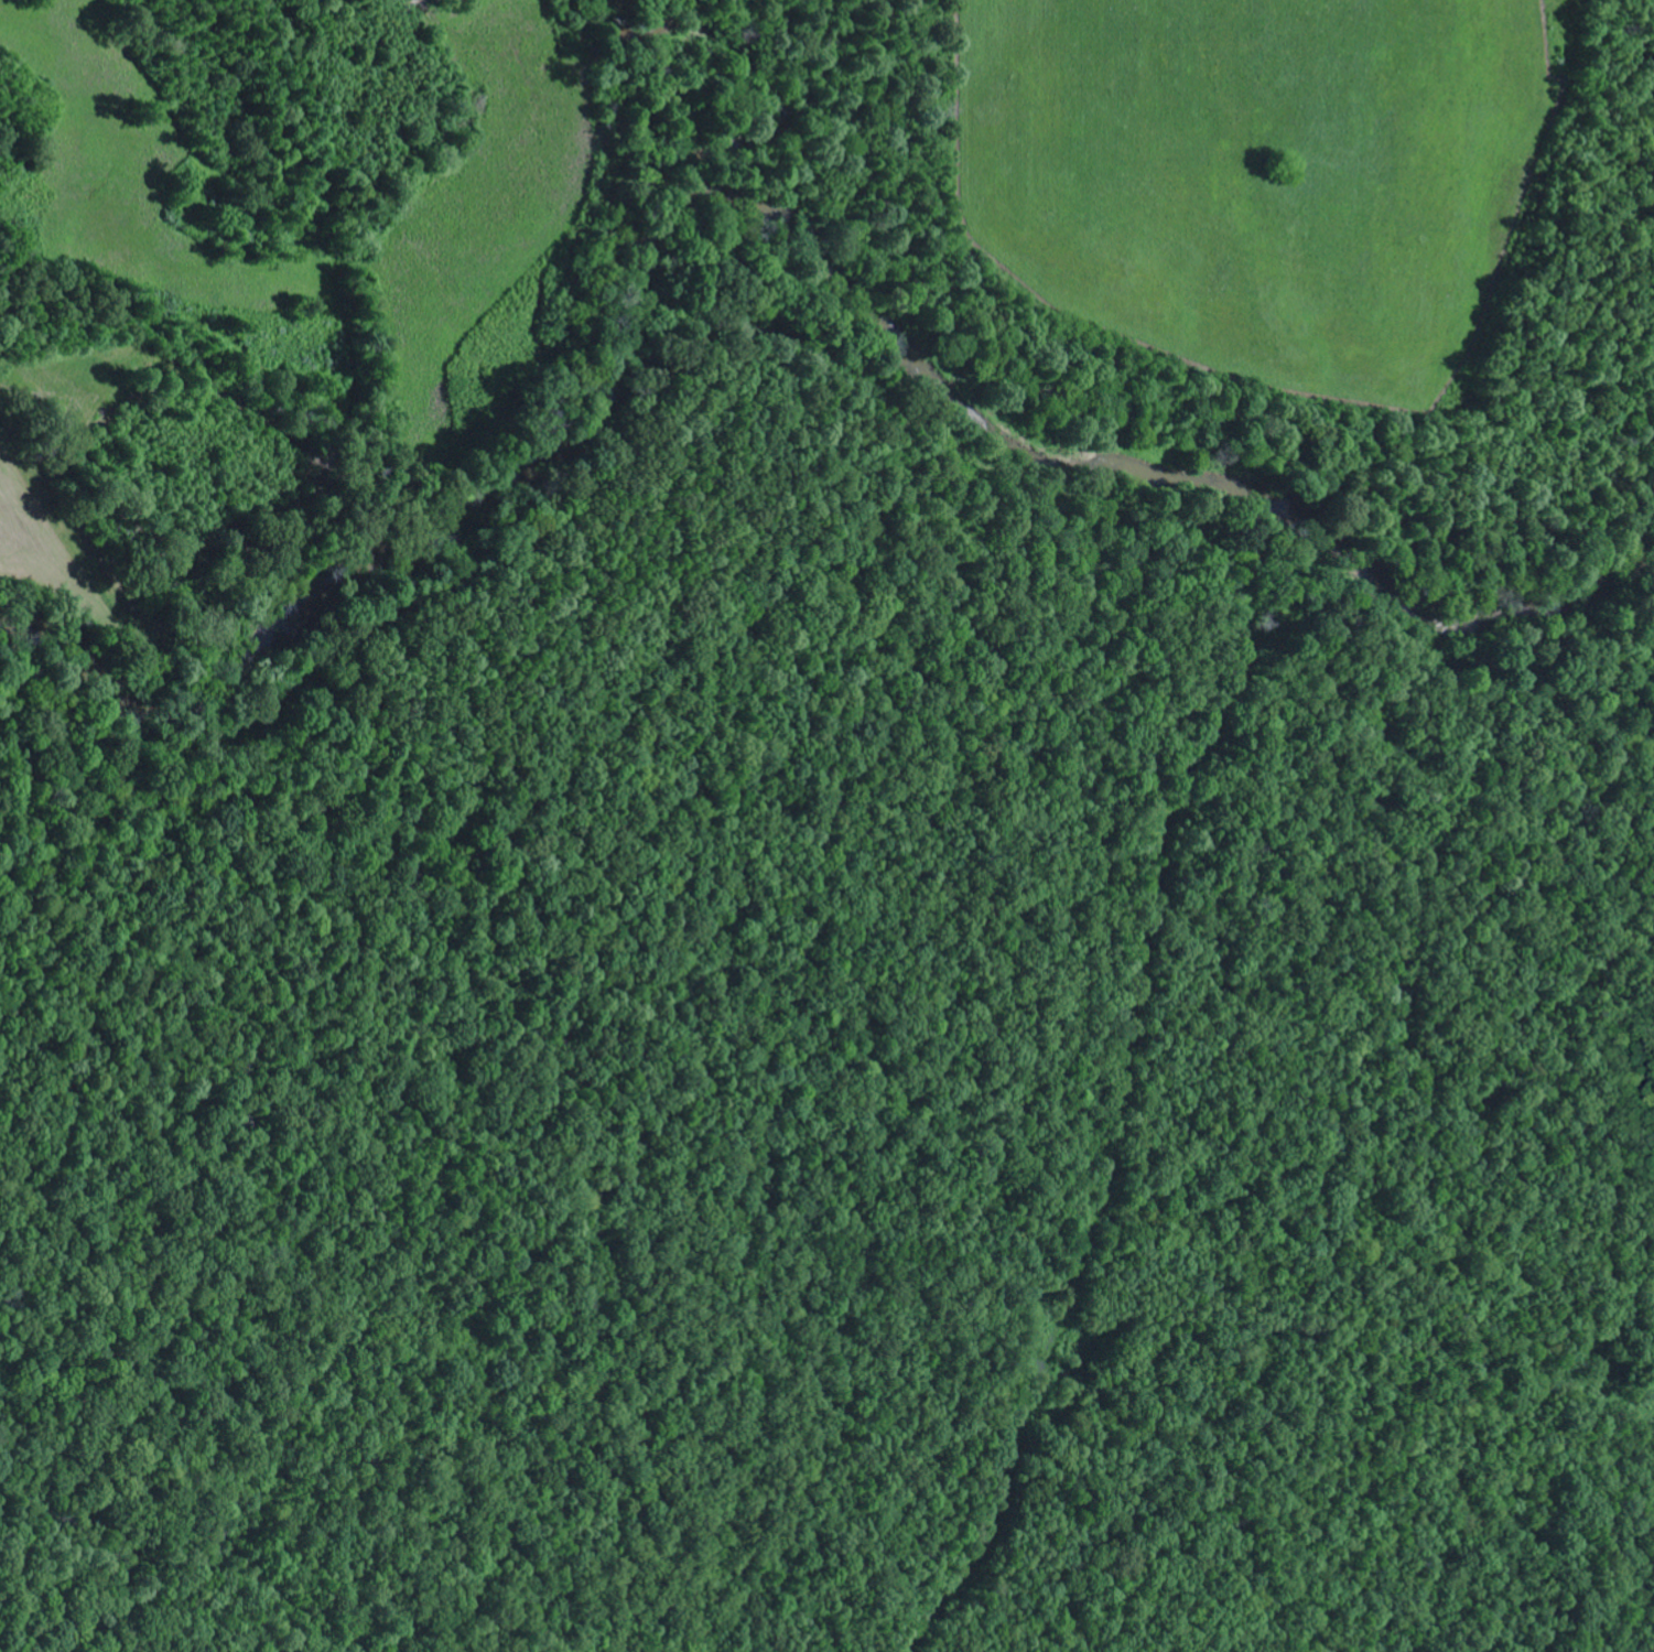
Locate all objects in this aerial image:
river: (780, 238)

